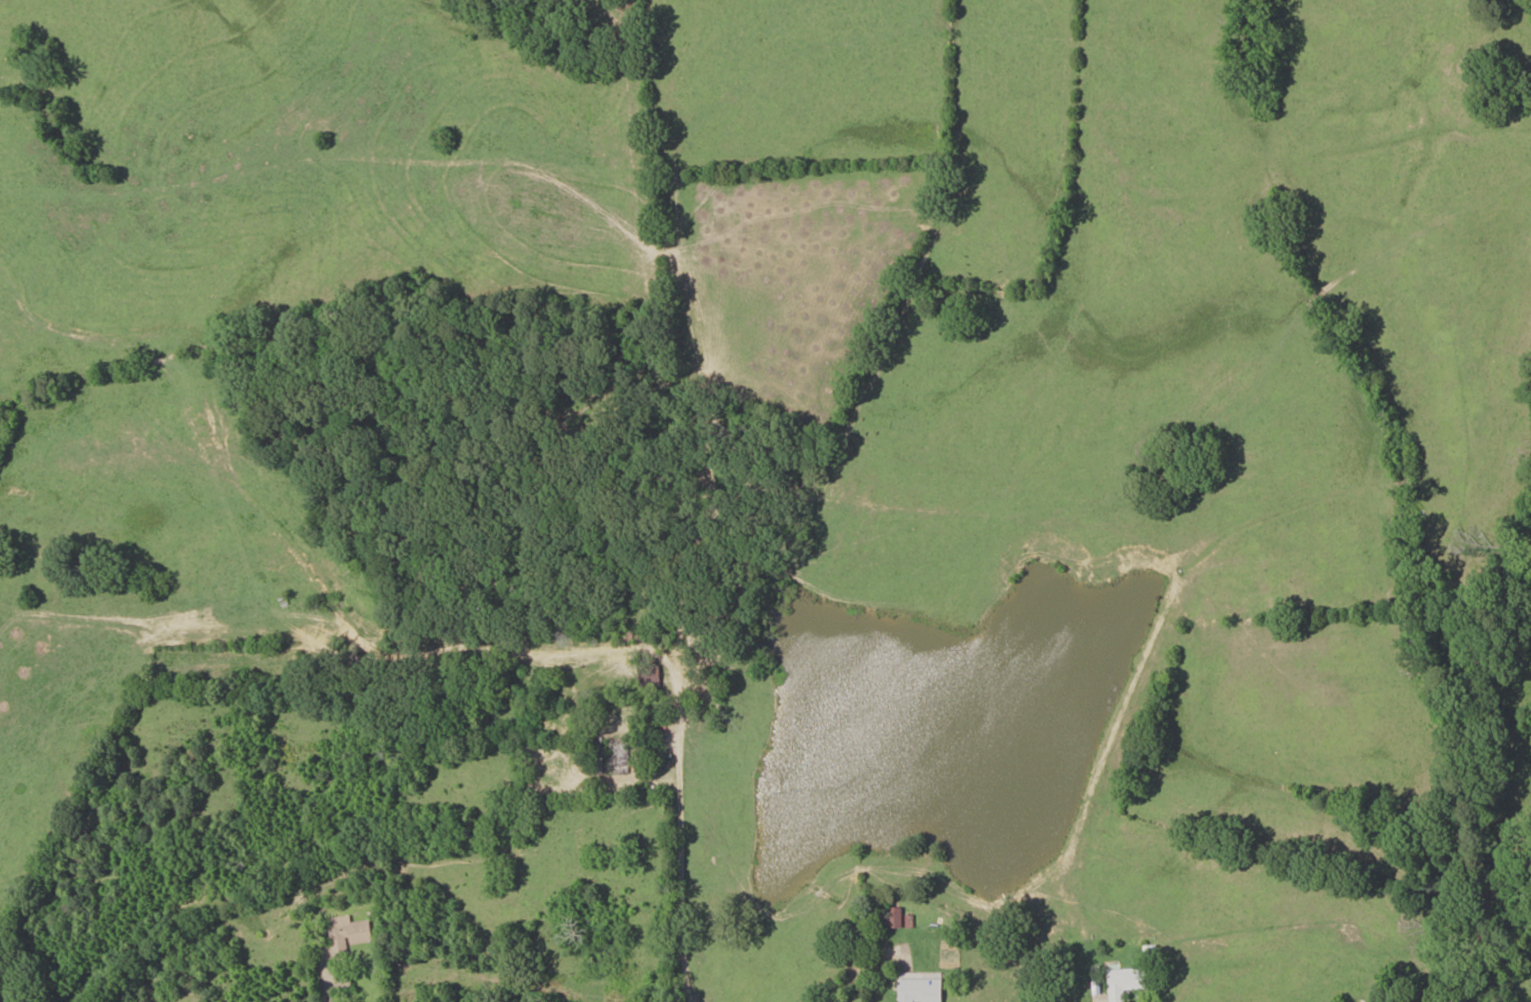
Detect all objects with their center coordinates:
building: (612, 755)
building: (893, 917)
building: (348, 934)
building: (1125, 982)
building: (921, 988)

